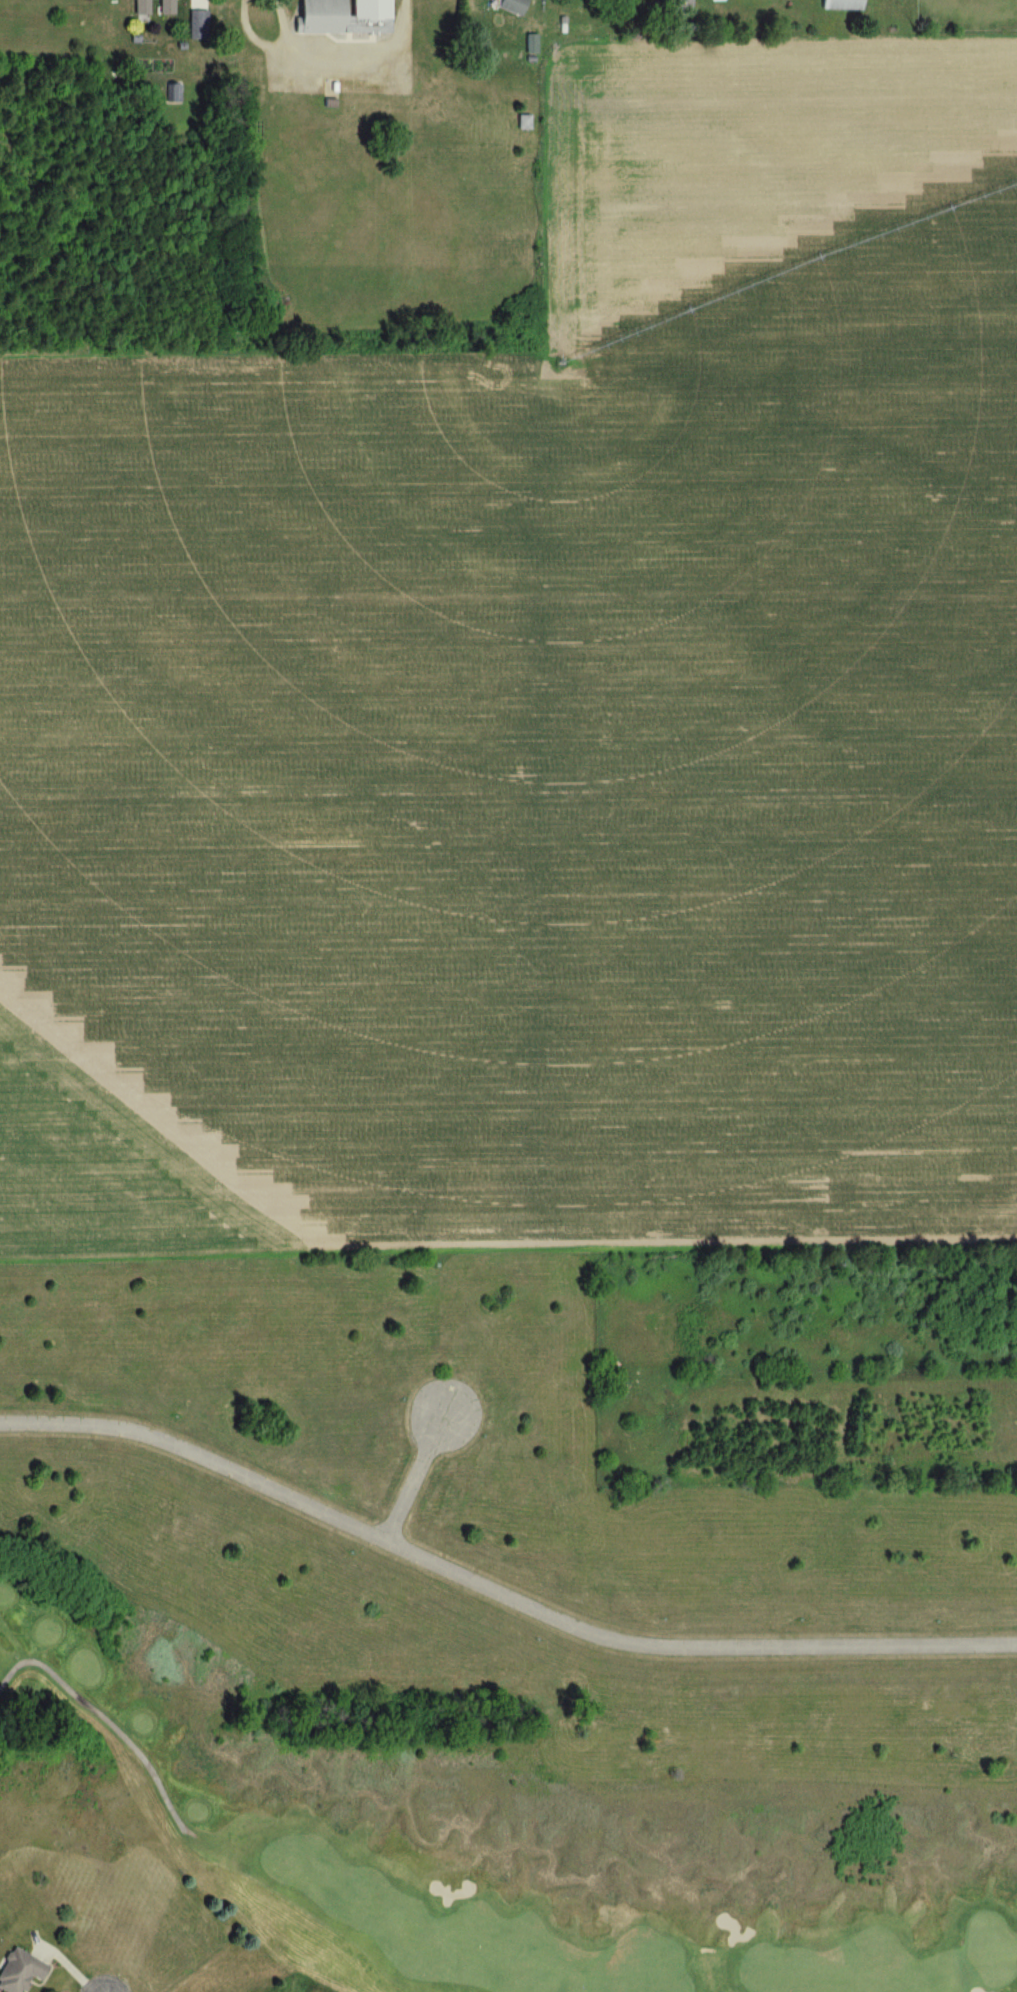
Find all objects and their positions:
building: (715, 0)
building: (681, 2)
building: (840, 5)
building: (510, 6)
building: (139, 8)
building: (164, 8)
building: (341, 17)
road: (267, 45)
building: (530, 45)
road: (368, 60)
crop: (546, 722)
road: (413, 1476)
road: (496, 1594)
road: (104, 1717)
park: (416, 1841)
building: (18, 1970)

